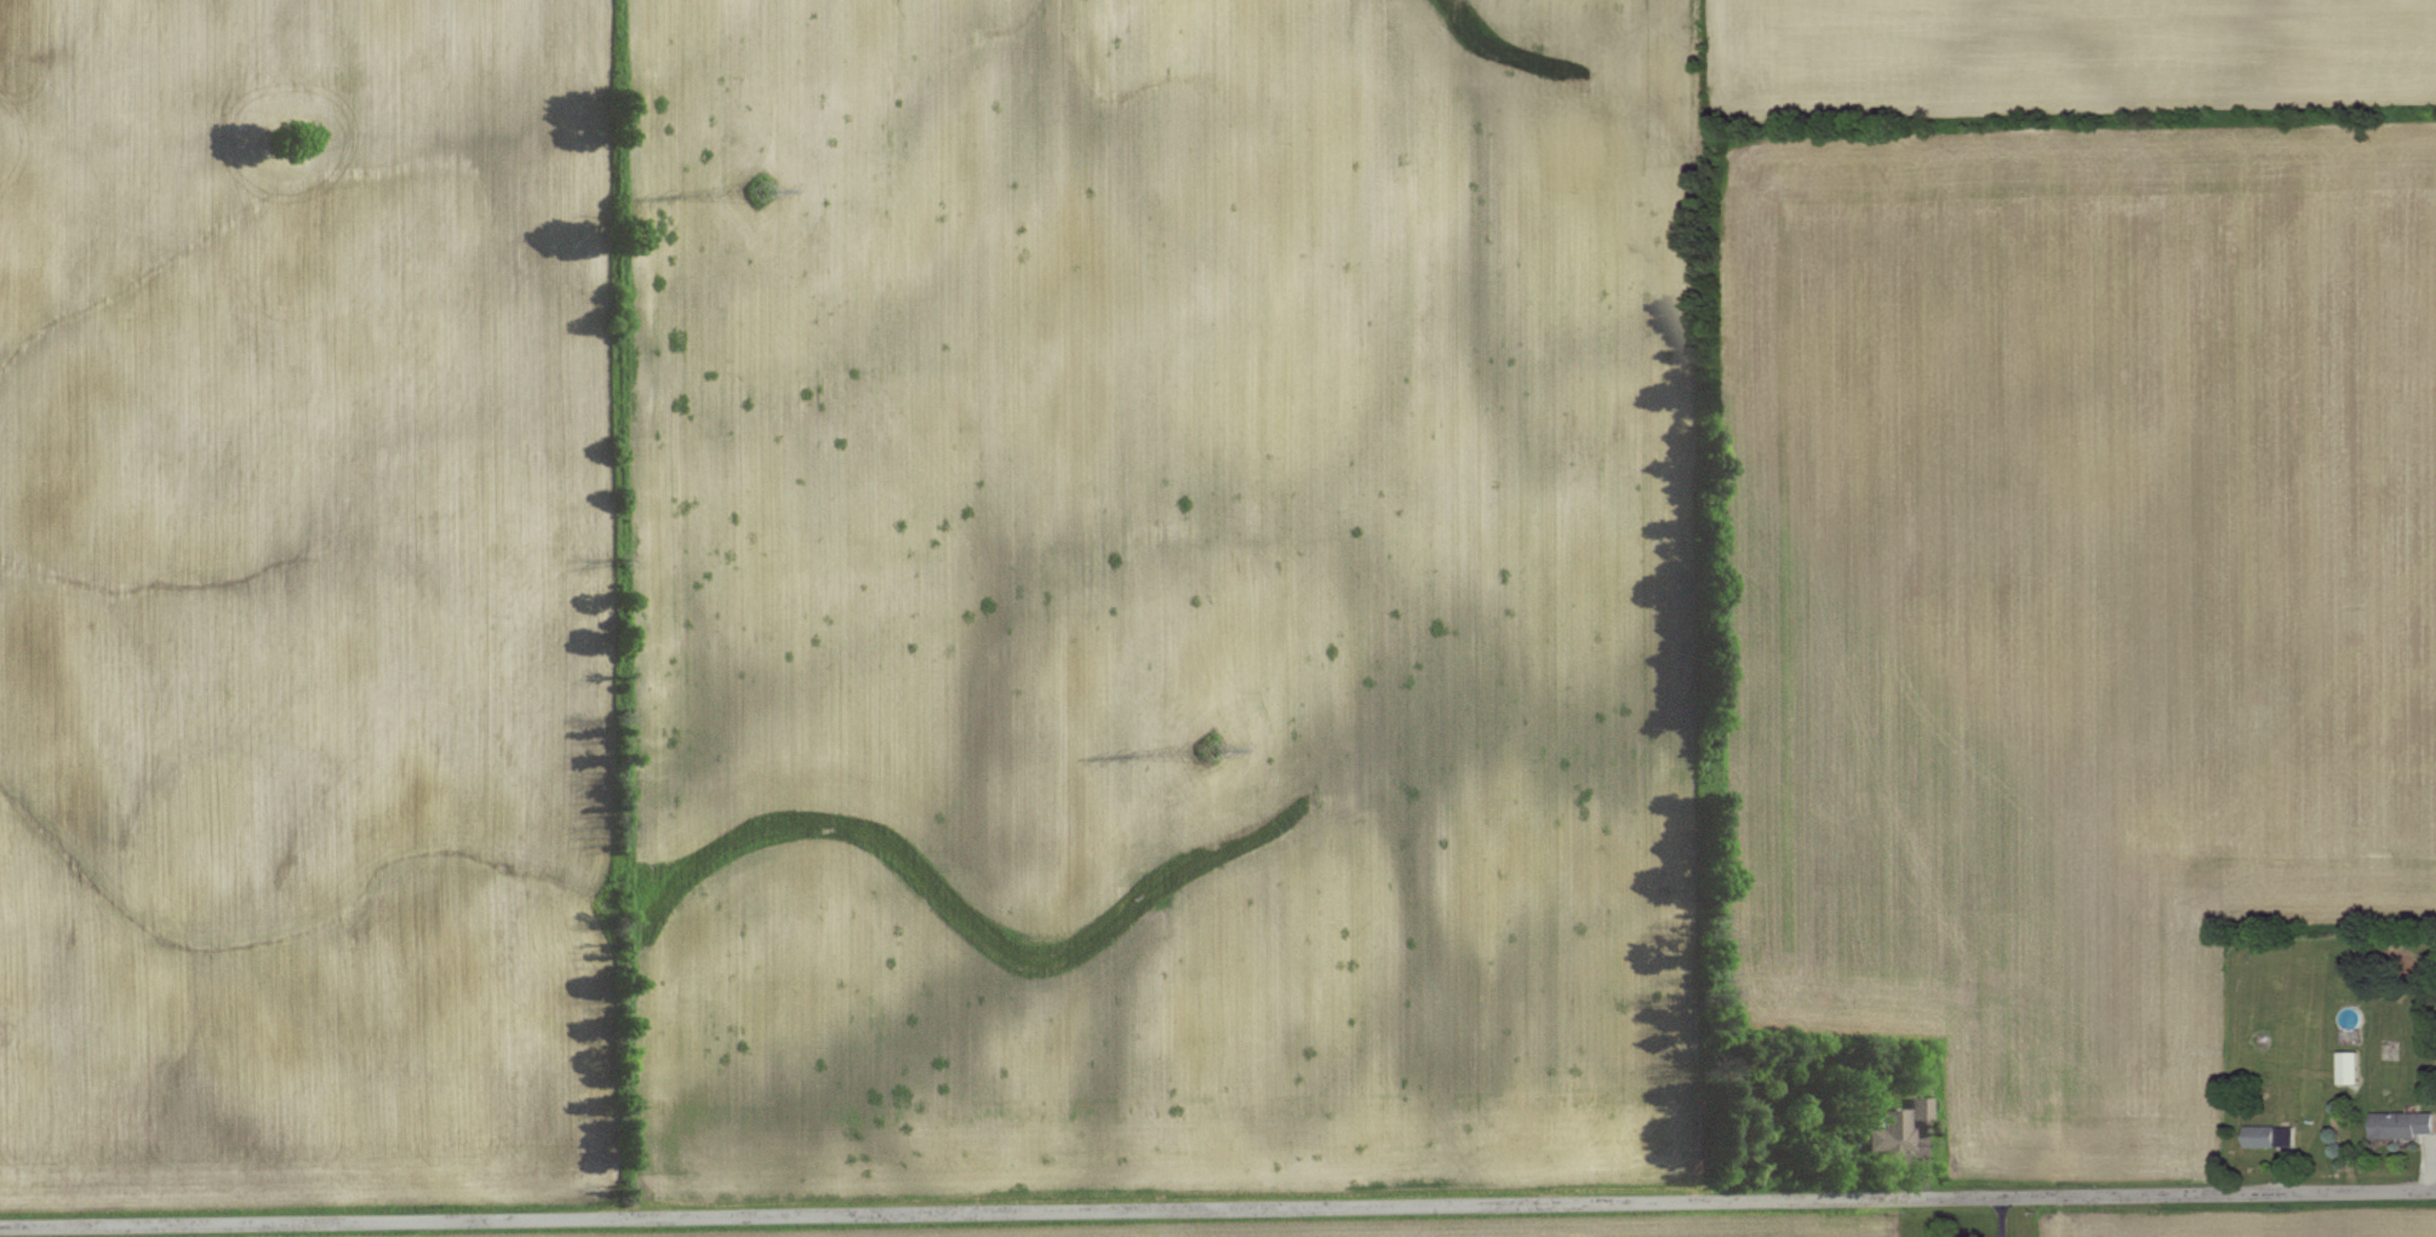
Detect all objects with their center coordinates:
power tower: (771, 185)
power tower: (1207, 752)
building: (2351, 1067)
building: (1921, 1107)
building: (1894, 1122)
building: (2403, 1124)
building: (2269, 1138)
road: (1217, 1207)
road: (2003, 1216)

